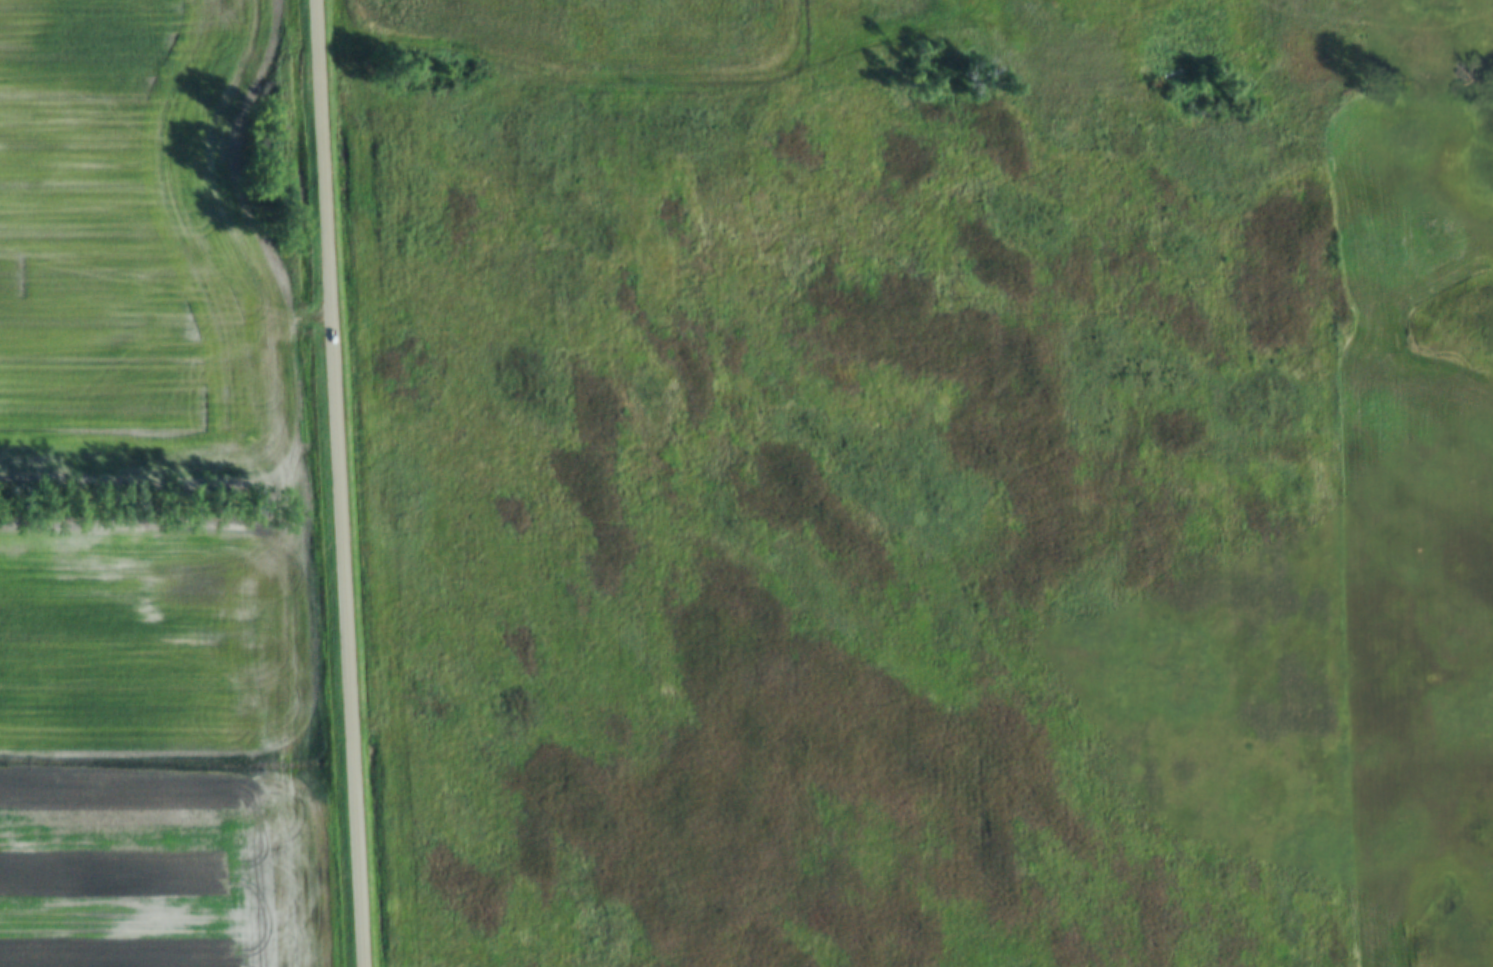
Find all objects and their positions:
crop: (146, 387)
road: (344, 483)
crop: (159, 870)

